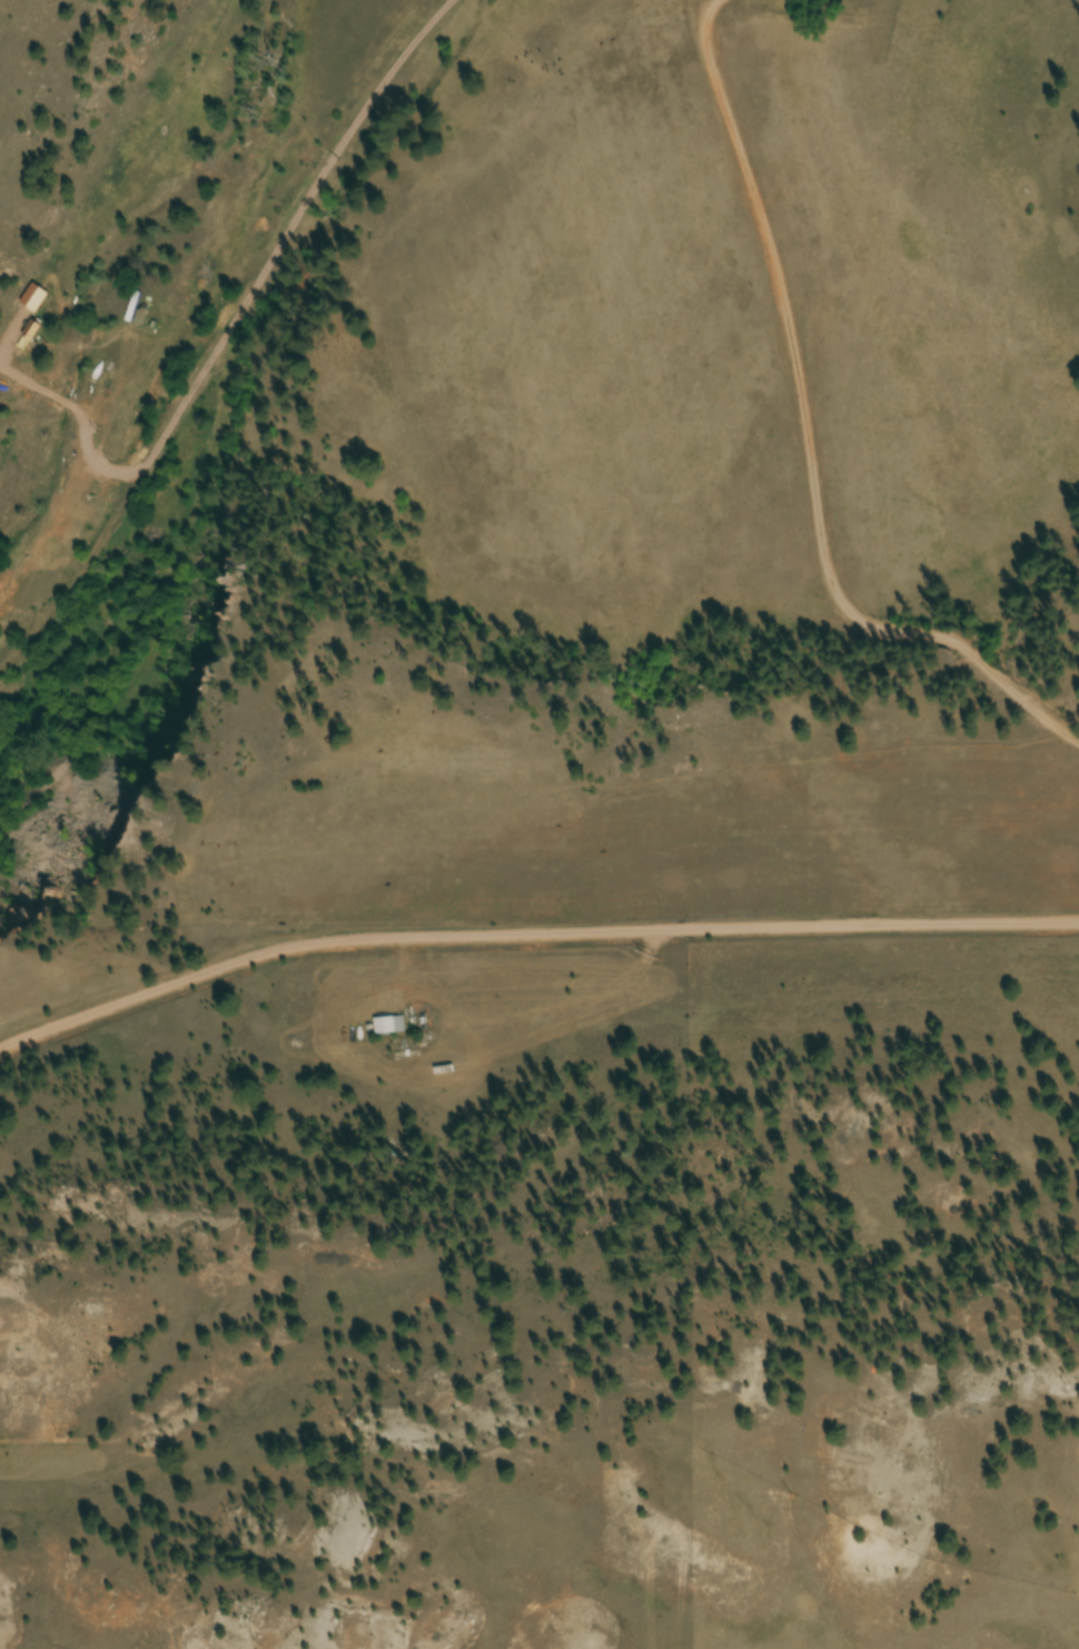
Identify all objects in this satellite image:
road: (809, 433)
road: (531, 936)
building: (390, 1028)

